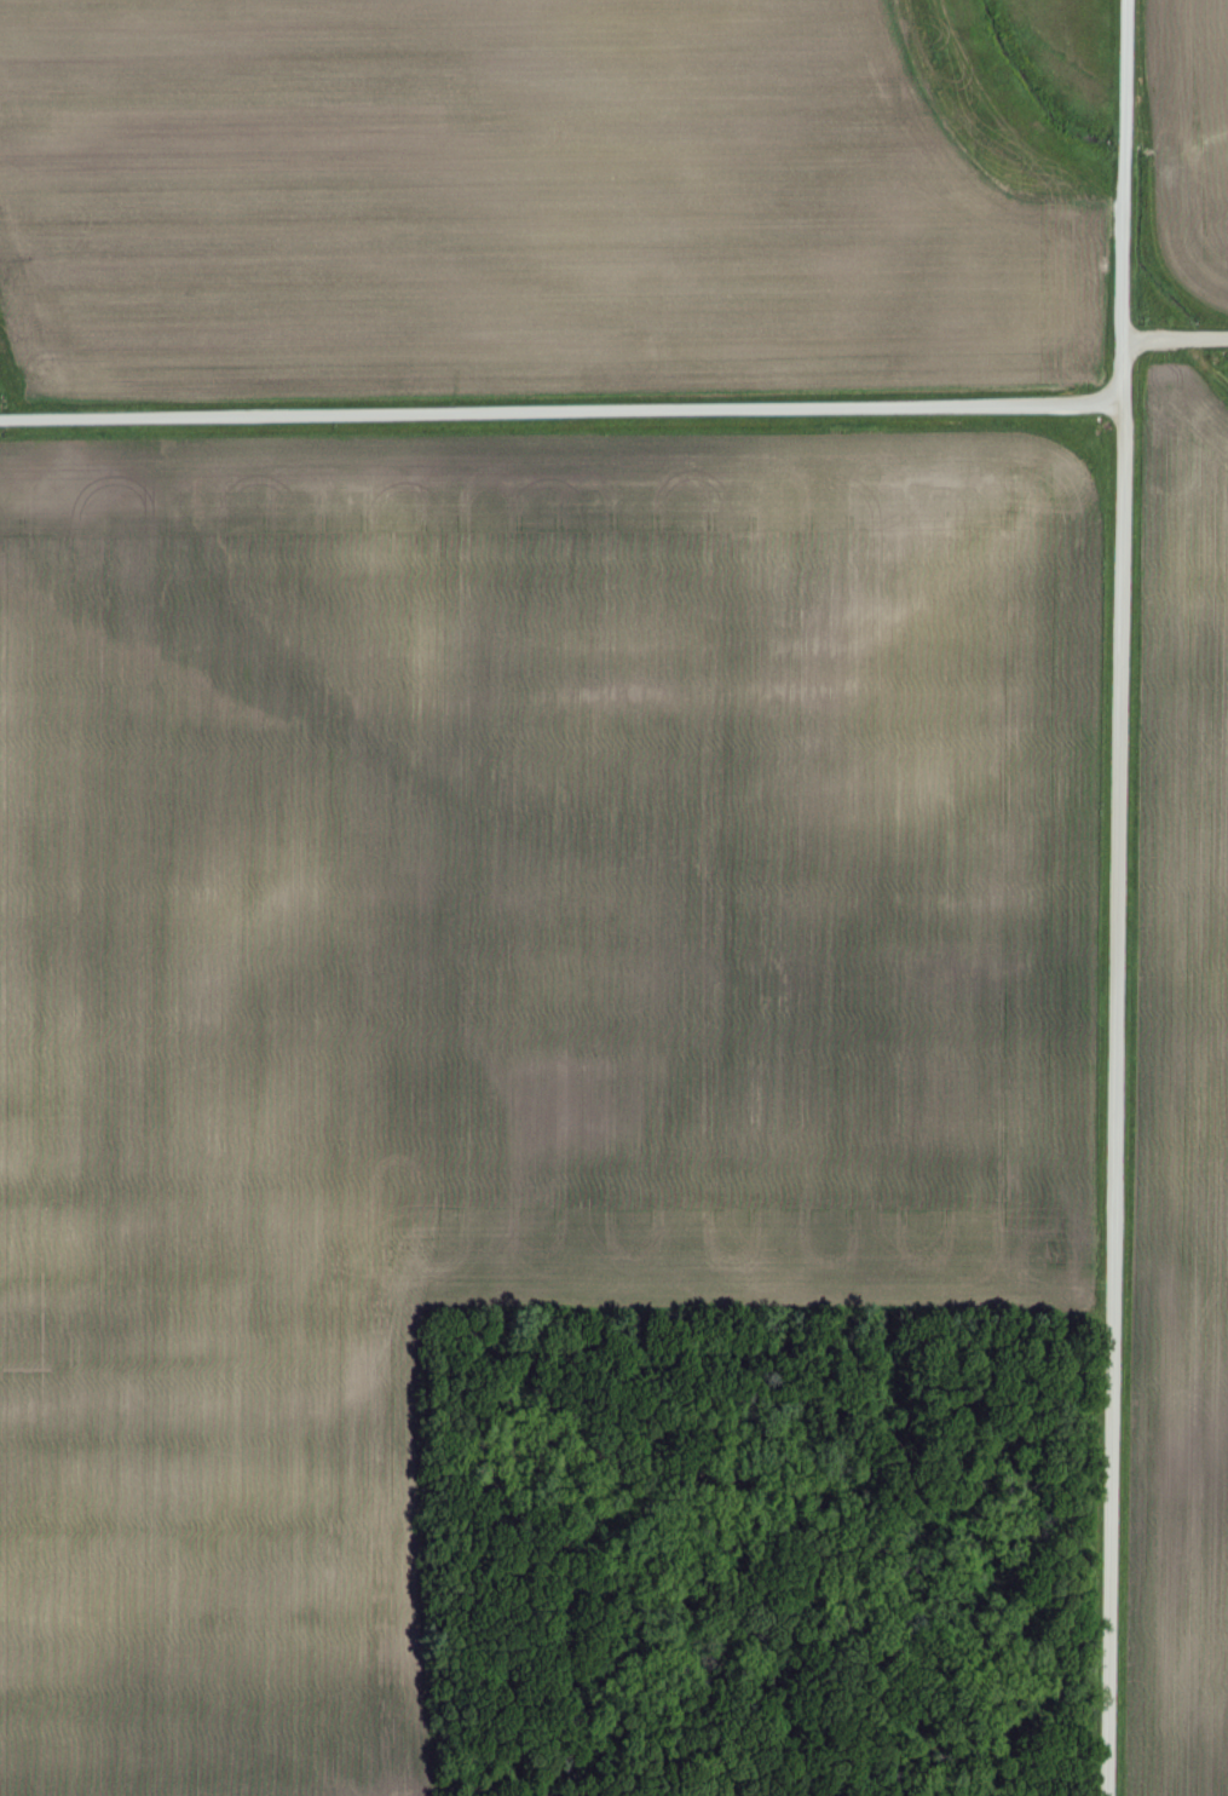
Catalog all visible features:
crop: (508, 205)
road: (1175, 338)
road: (561, 411)
road: (1120, 898)
crop: (490, 996)

